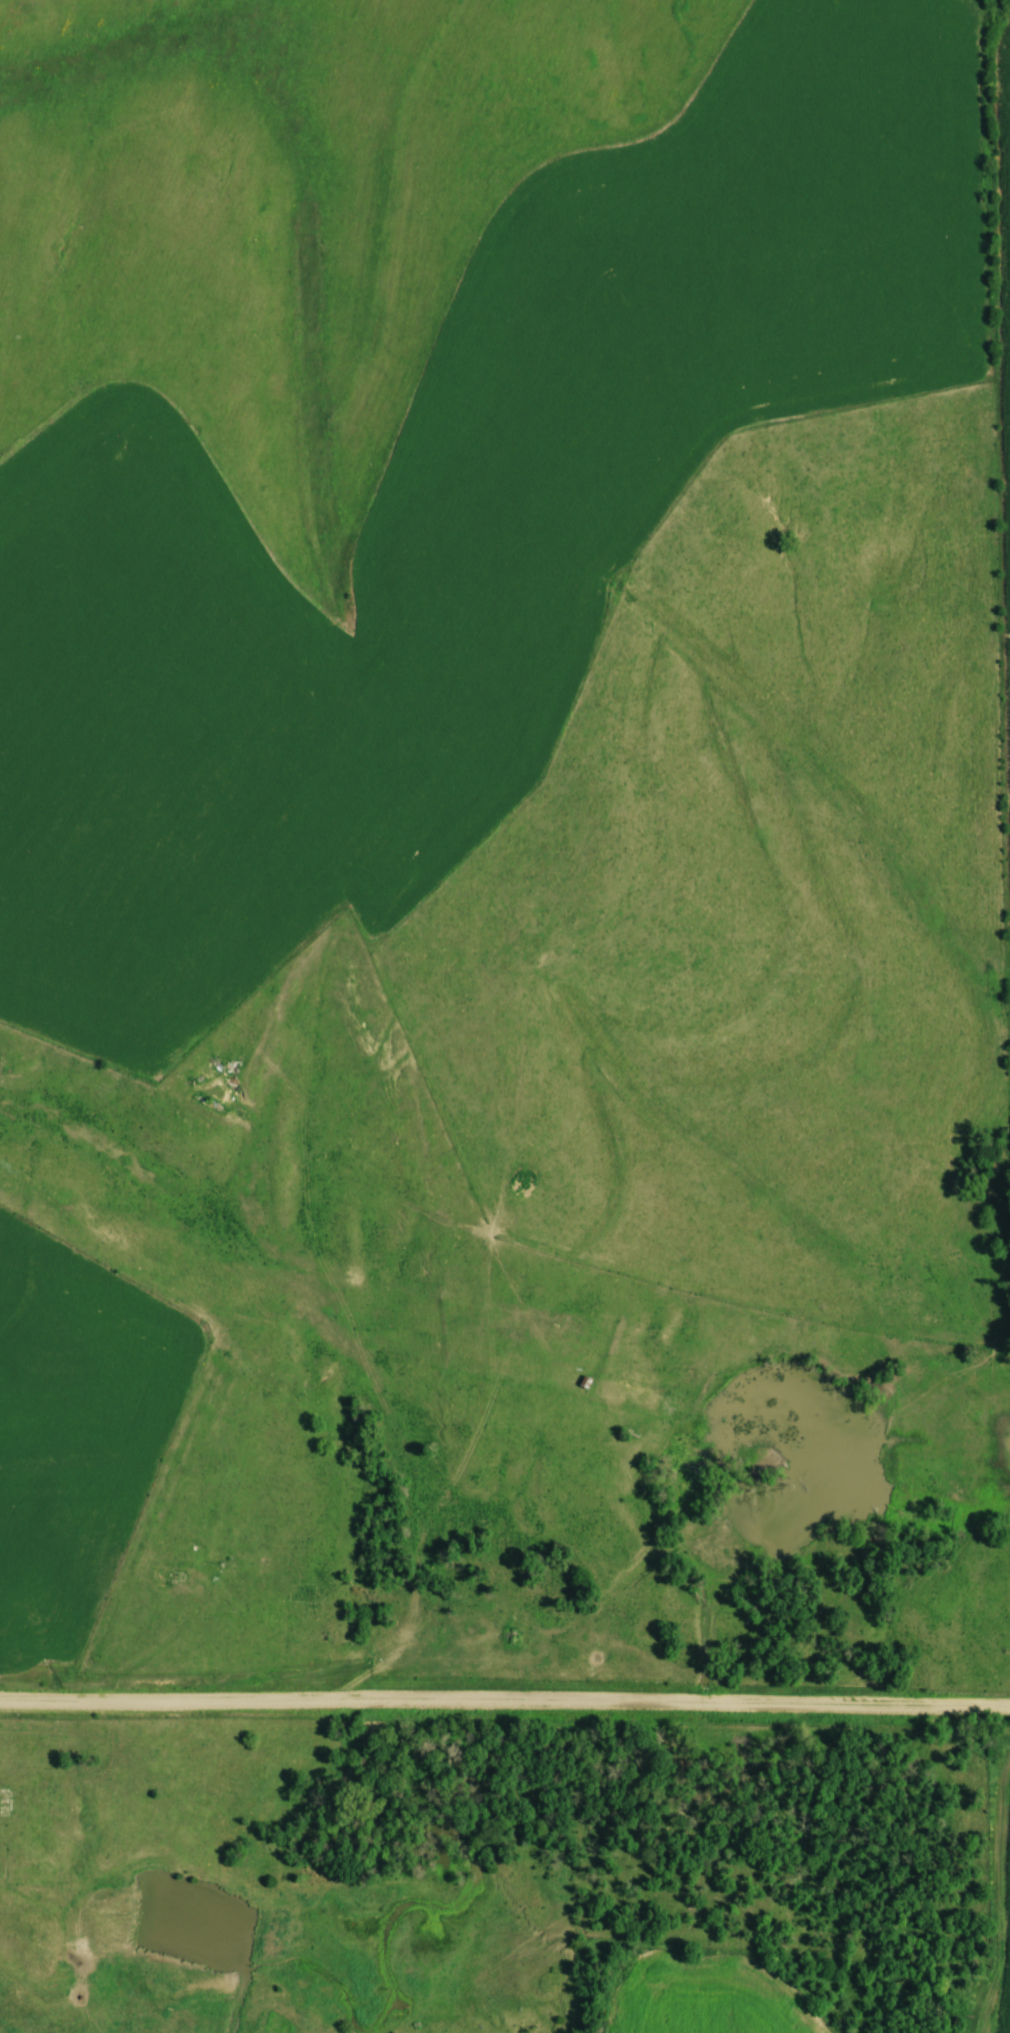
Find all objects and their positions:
road: (505, 1700)

